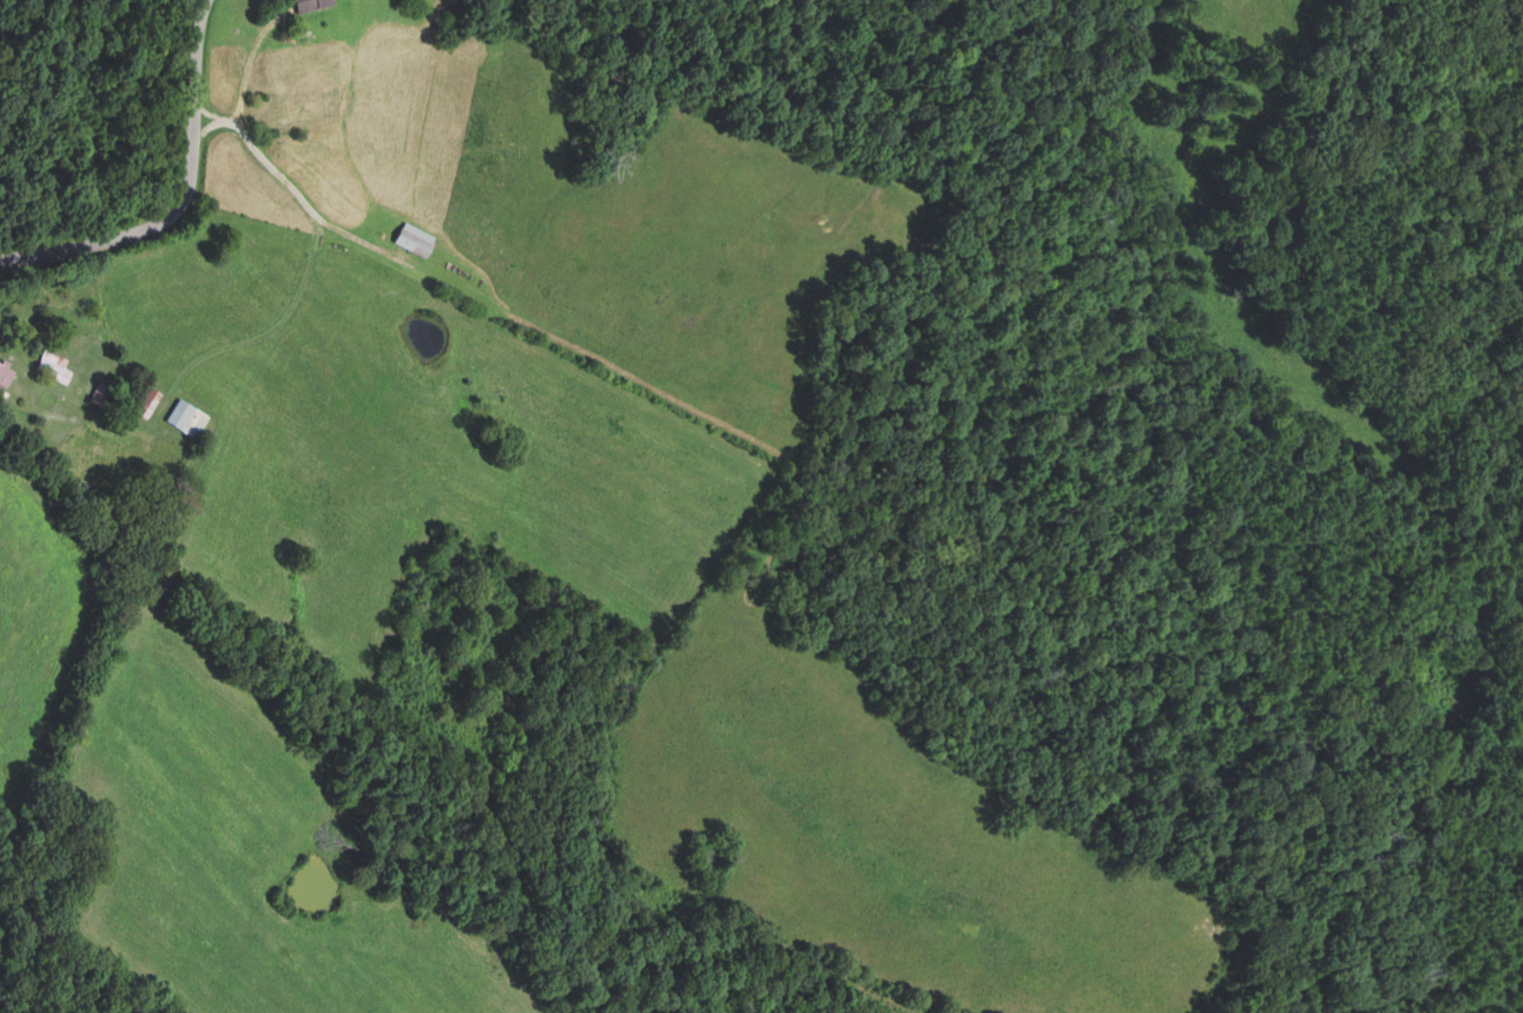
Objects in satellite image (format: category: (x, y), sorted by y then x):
building: (311, 5)
building: (299, 104)
road: (169, 192)
building: (415, 239)
building: (52, 367)
building: (4, 375)
building: (146, 403)
building: (186, 418)

